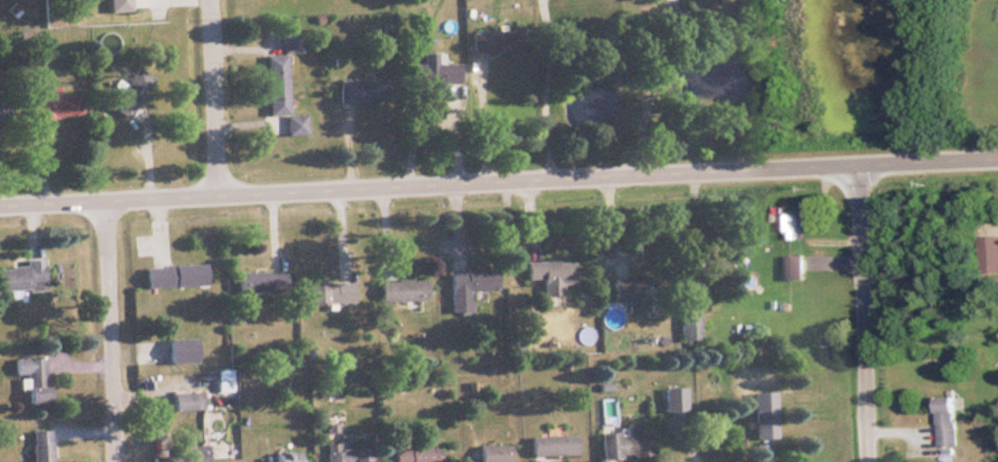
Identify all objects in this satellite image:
building: (116, 5)
building: (493, 41)
building: (431, 71)
building: (273, 85)
road: (541, 86)
building: (358, 90)
building: (128, 93)
road: (215, 95)
building: (50, 105)
road: (479, 118)
building: (291, 125)
road: (498, 177)
building: (780, 221)
building: (986, 248)
building: (790, 267)
building: (548, 275)
building: (22, 276)
building: (171, 276)
building: (258, 282)
building: (461, 288)
building: (399, 290)
building: (328, 292)
building: (629, 293)
road: (865, 310)
road: (114, 329)
building: (178, 350)
building: (33, 379)
building: (184, 401)
building: (761, 415)
building: (942, 422)
building: (622, 444)
building: (551, 445)
building: (39, 446)
building: (491, 453)
building: (178, 455)
building: (345, 455)
building: (413, 455)
building: (286, 456)

